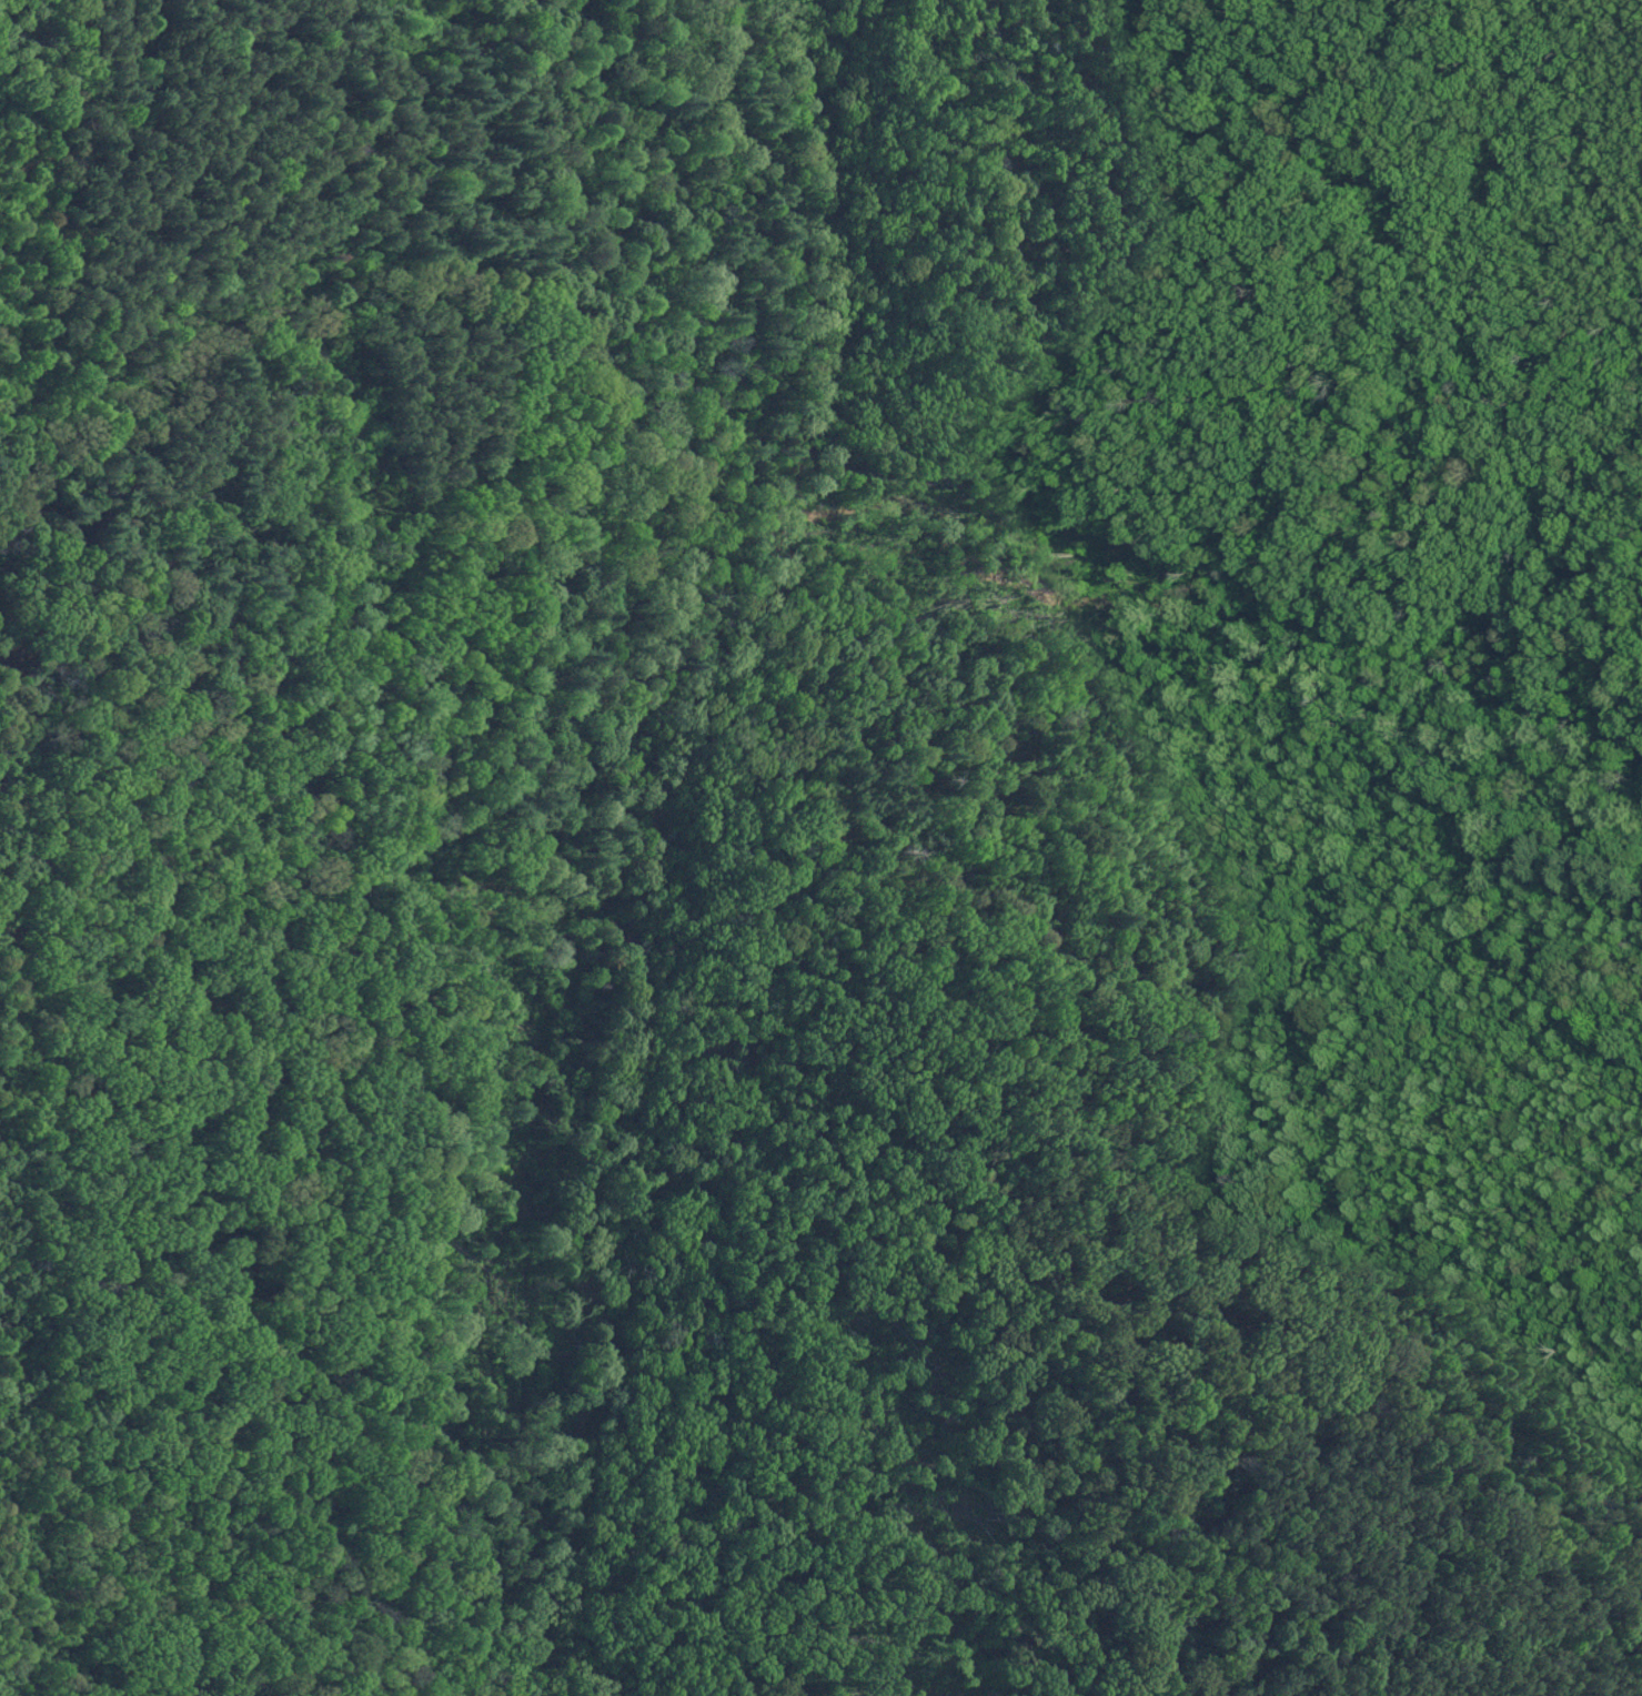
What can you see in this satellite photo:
road: (291, 171)

